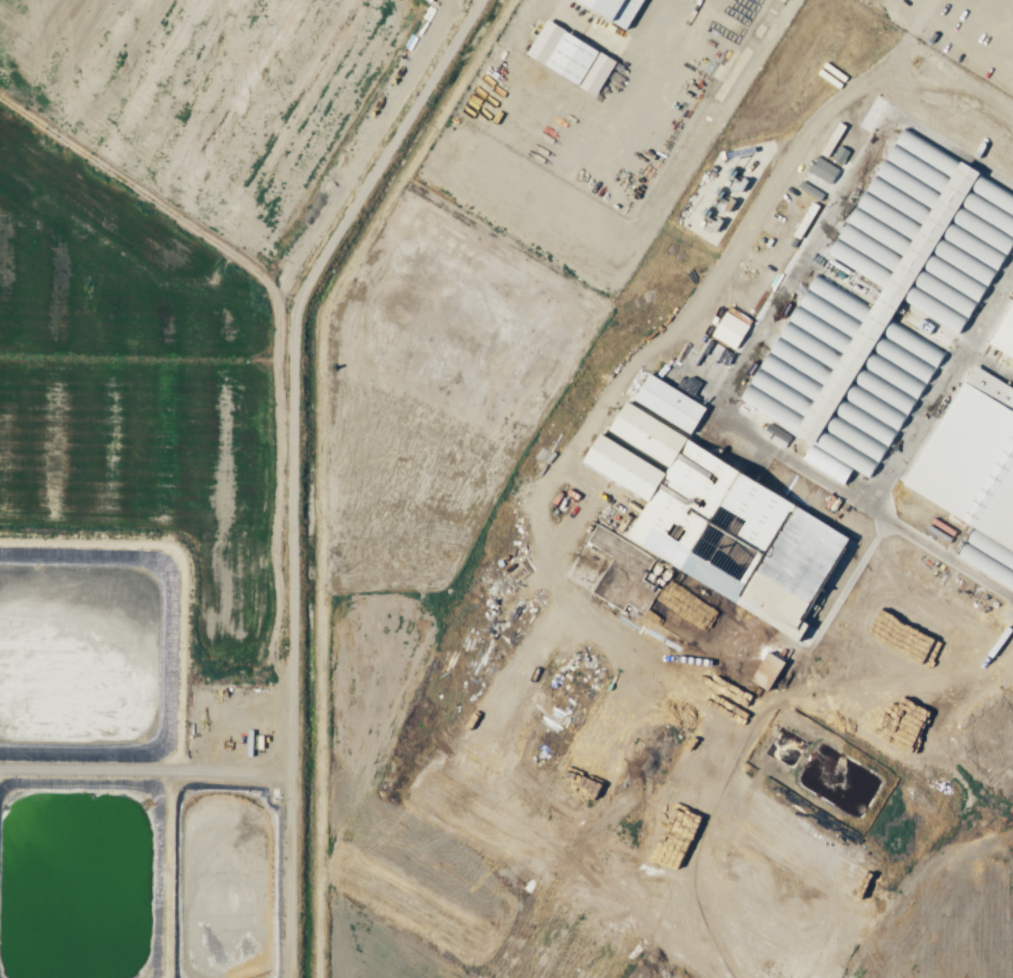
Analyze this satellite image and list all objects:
road: (456, 8)
road: (472, 8)
building: (618, 10)
building: (573, 58)
road: (915, 97)
building: (841, 155)
building: (824, 169)
building: (887, 307)
building: (732, 329)
building: (673, 403)
building: (976, 469)
road: (292, 473)
building: (722, 519)
building: (770, 671)

